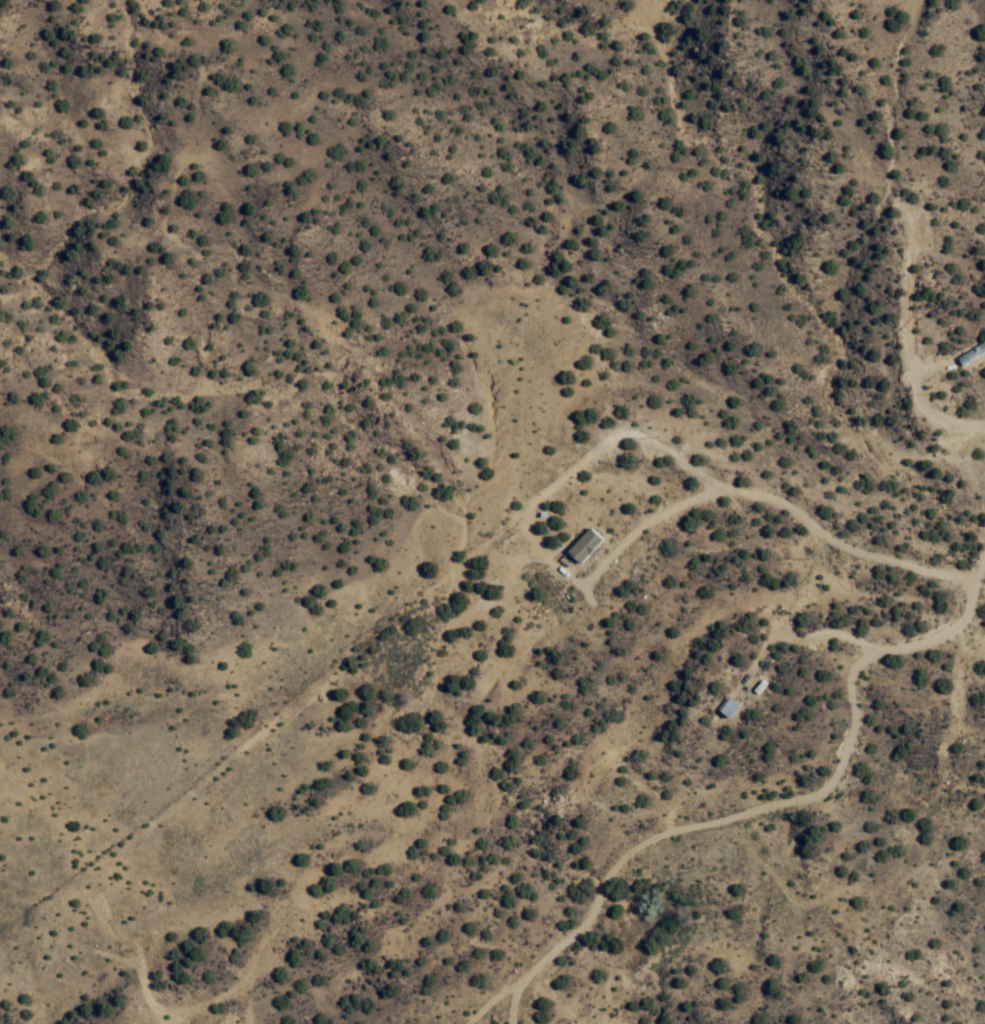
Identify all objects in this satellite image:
road: (21, 77)
road: (894, 201)
building: (974, 357)
road: (982, 390)
building: (588, 547)

